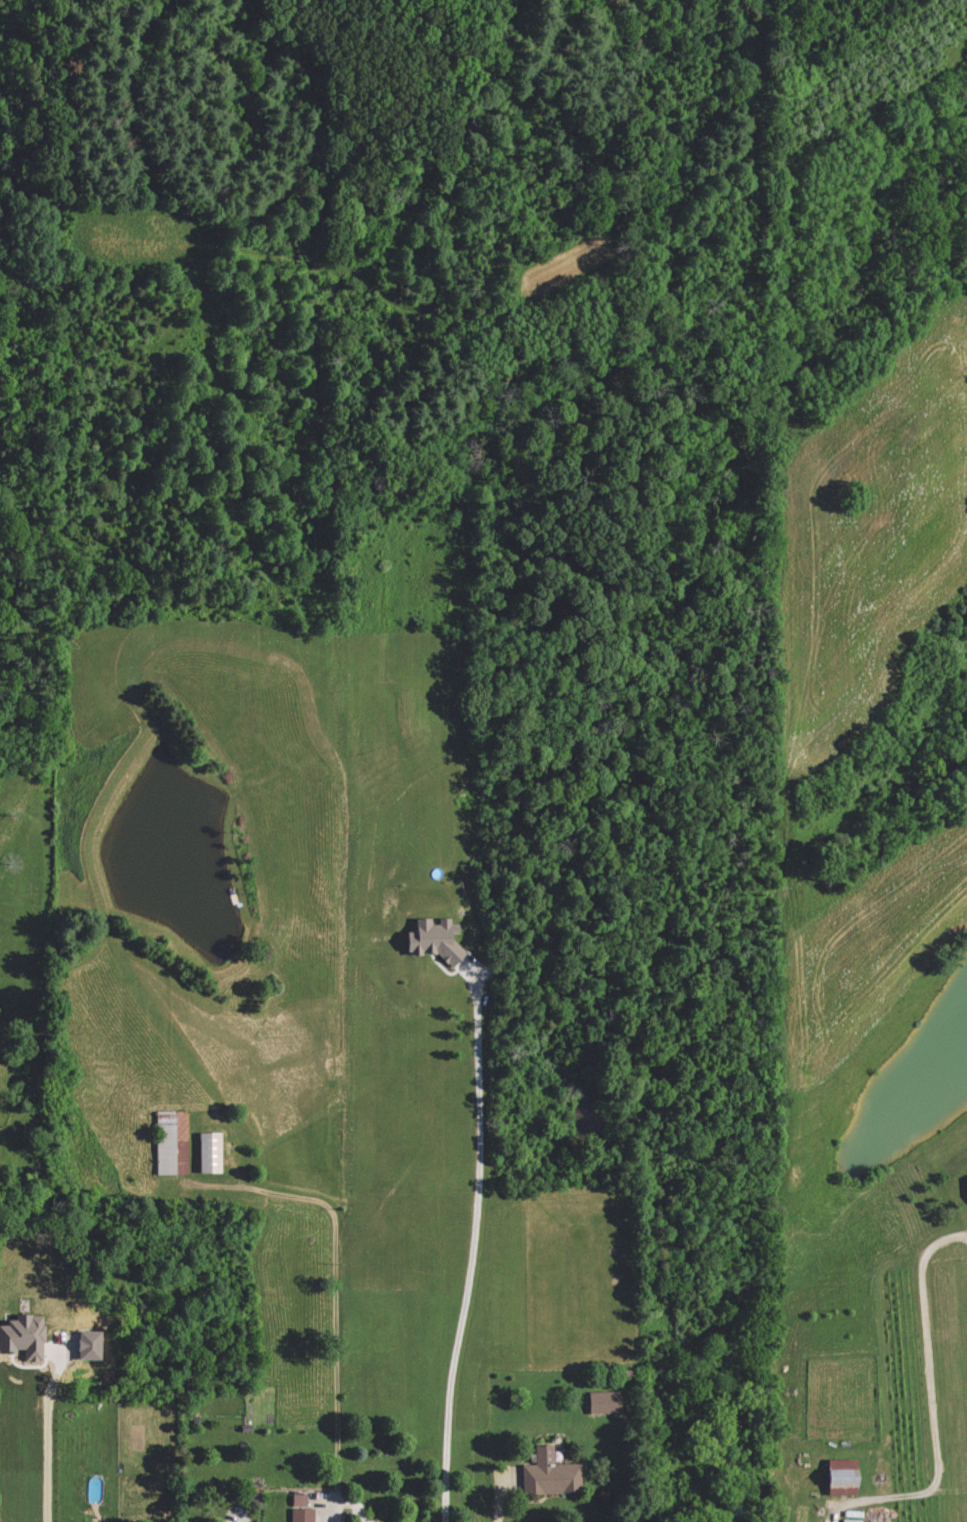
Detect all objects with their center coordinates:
building: (427, 939)
building: (171, 1142)
building: (207, 1152)
building: (965, 1181)
road: (470, 1254)
road: (336, 1293)
building: (21, 1336)
road: (928, 1381)
building: (600, 1403)
road: (45, 1435)
building: (547, 1475)
building: (836, 1478)
road: (499, 1494)
building: (299, 1510)
building: (847, 1521)

